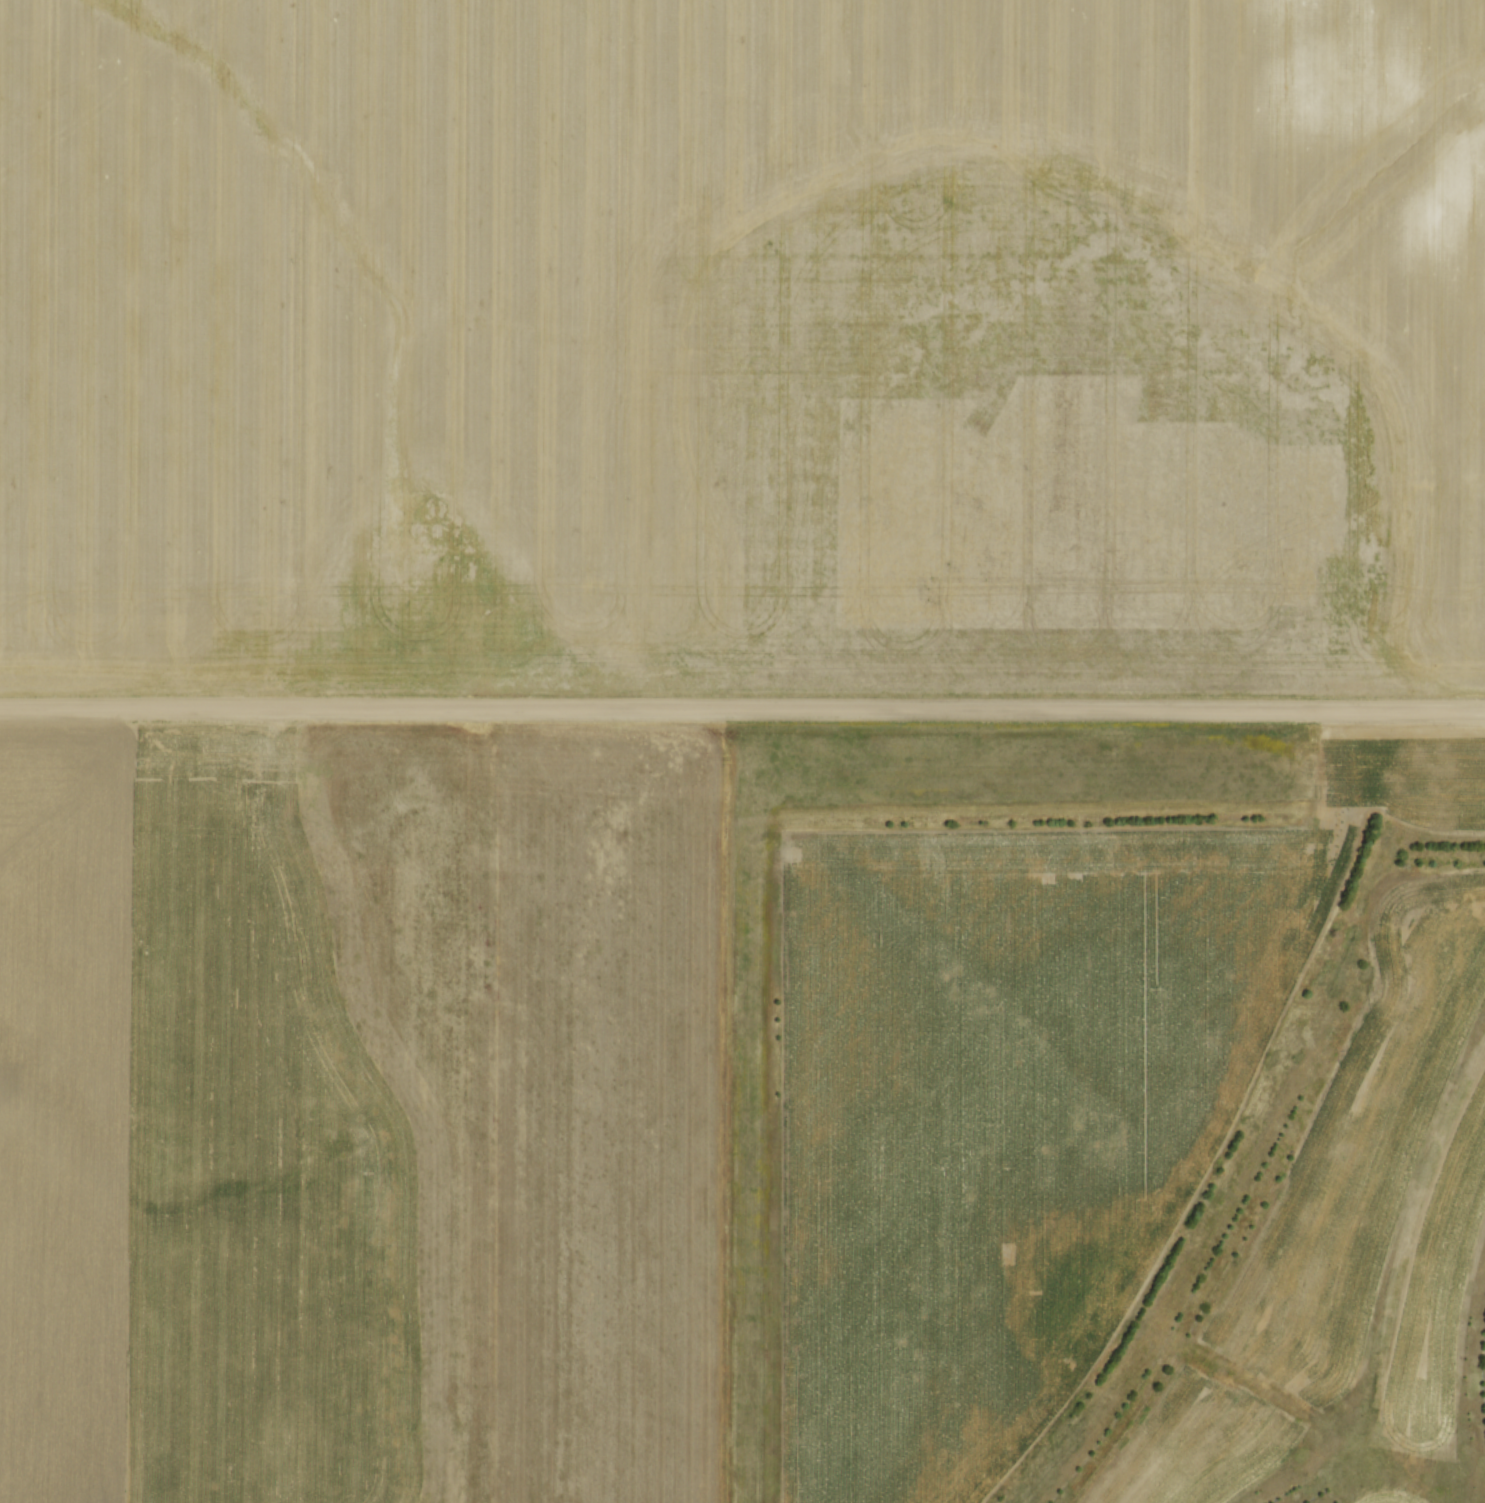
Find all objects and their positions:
crop: (743, 346)
road: (742, 709)

